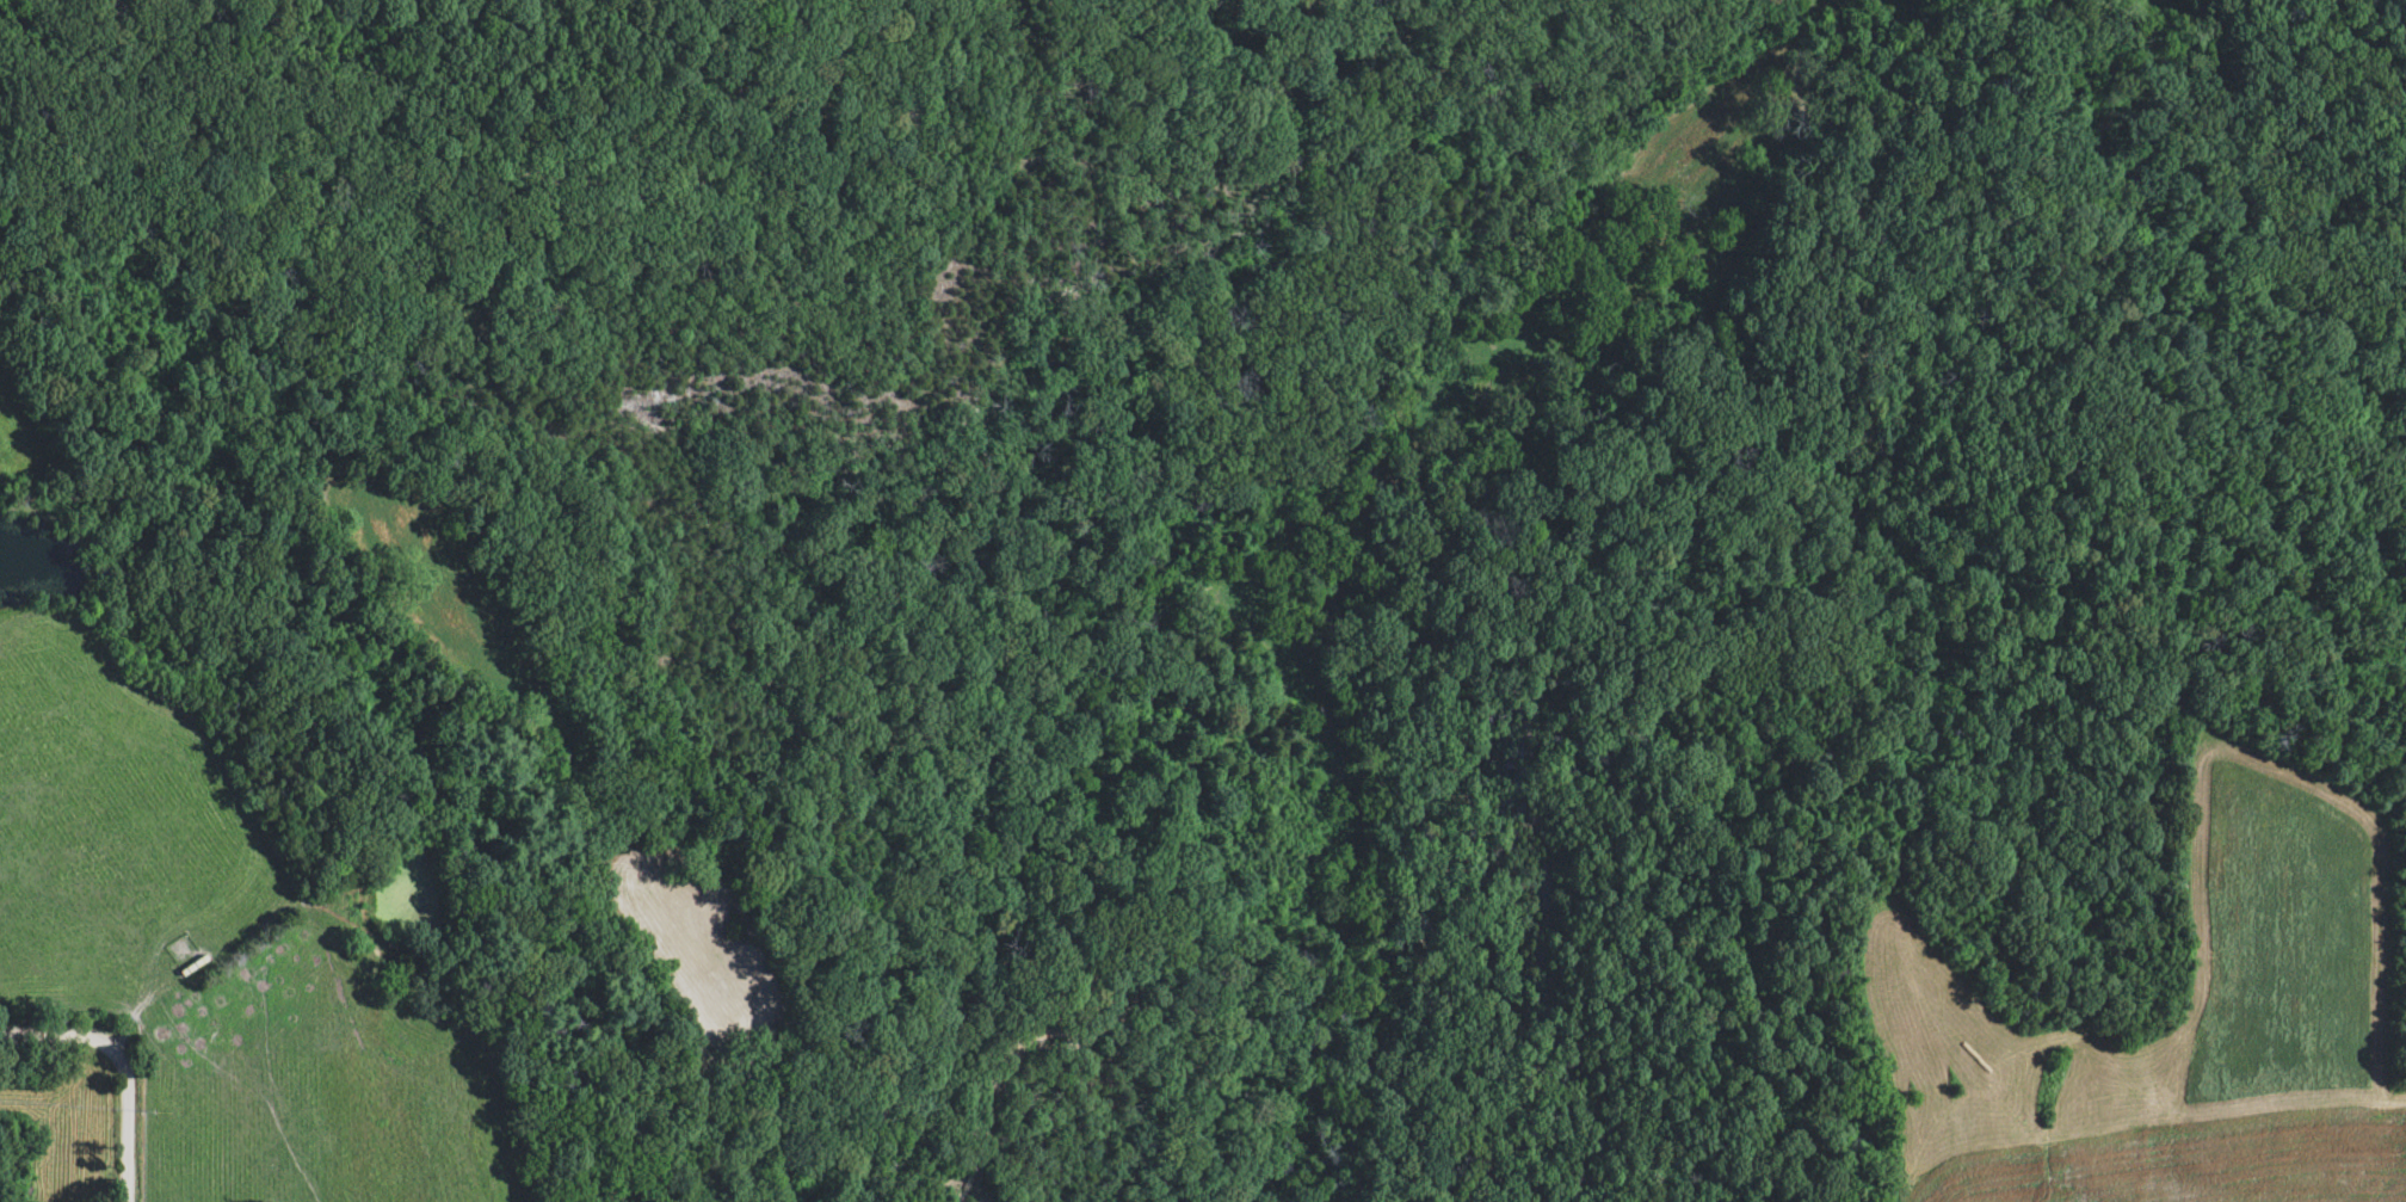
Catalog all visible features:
road: (129, 1062)

